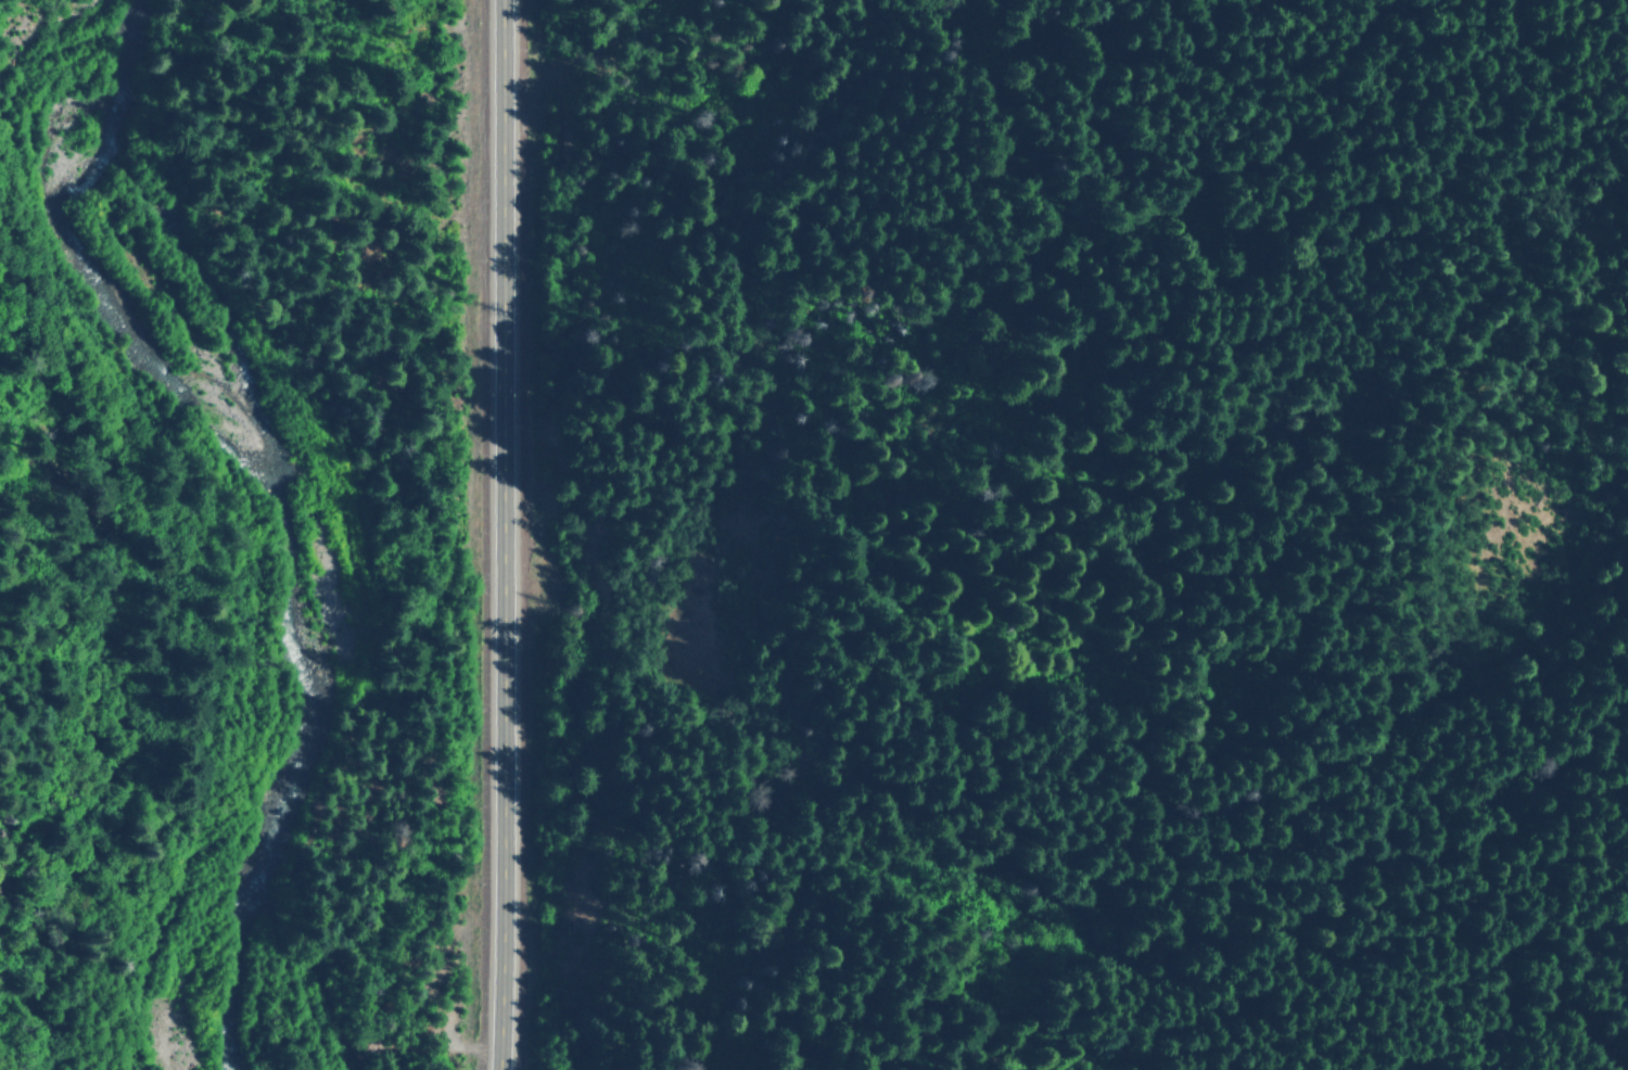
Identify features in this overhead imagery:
river: (284, 521)
road: (496, 535)

